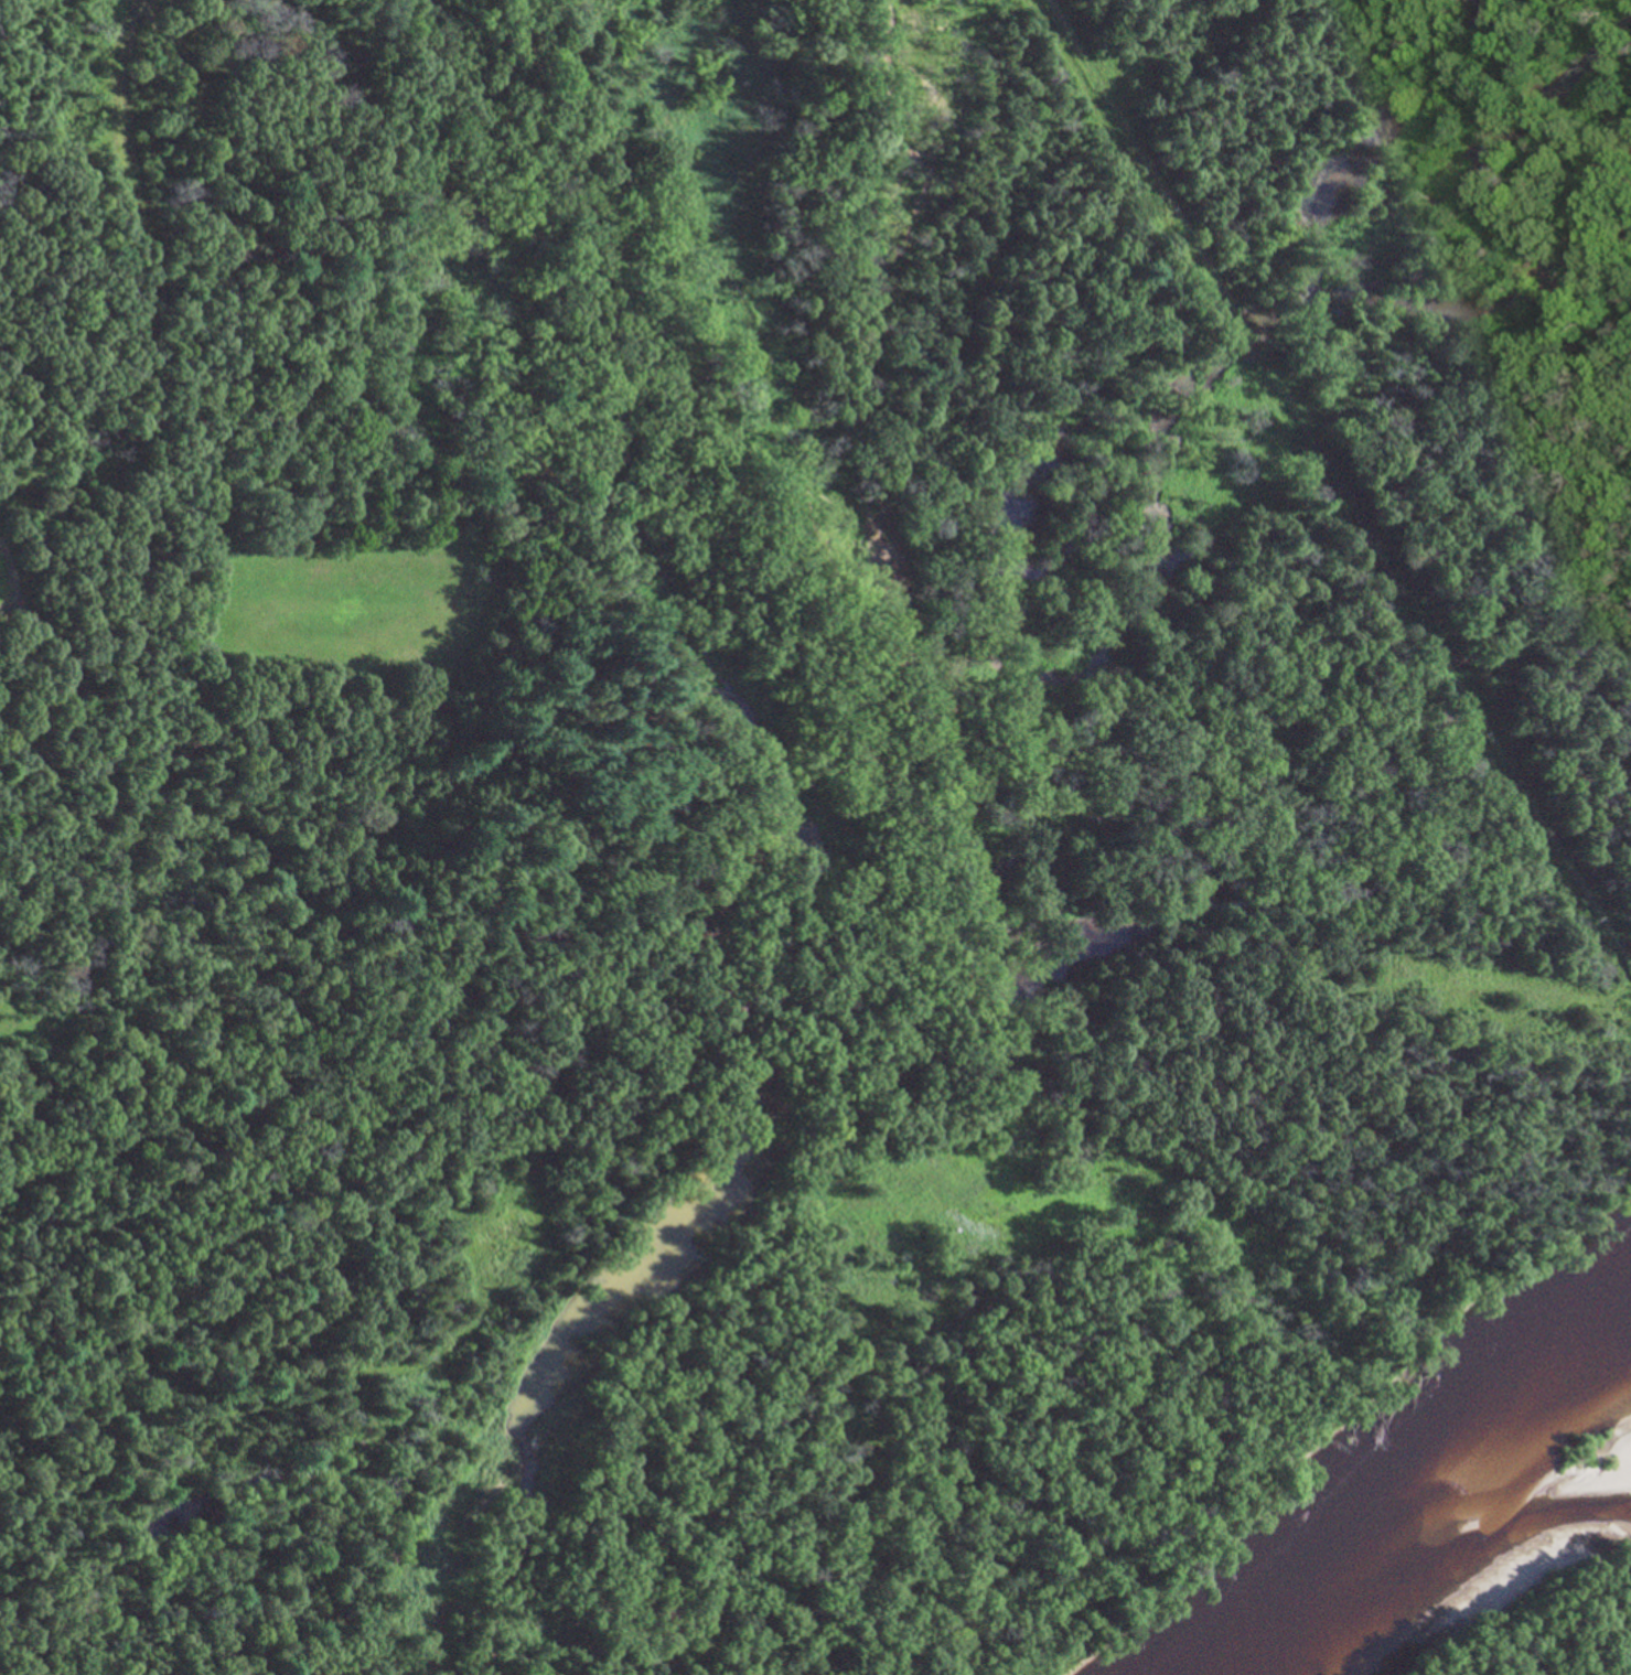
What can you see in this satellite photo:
river: (1436, 1514)

